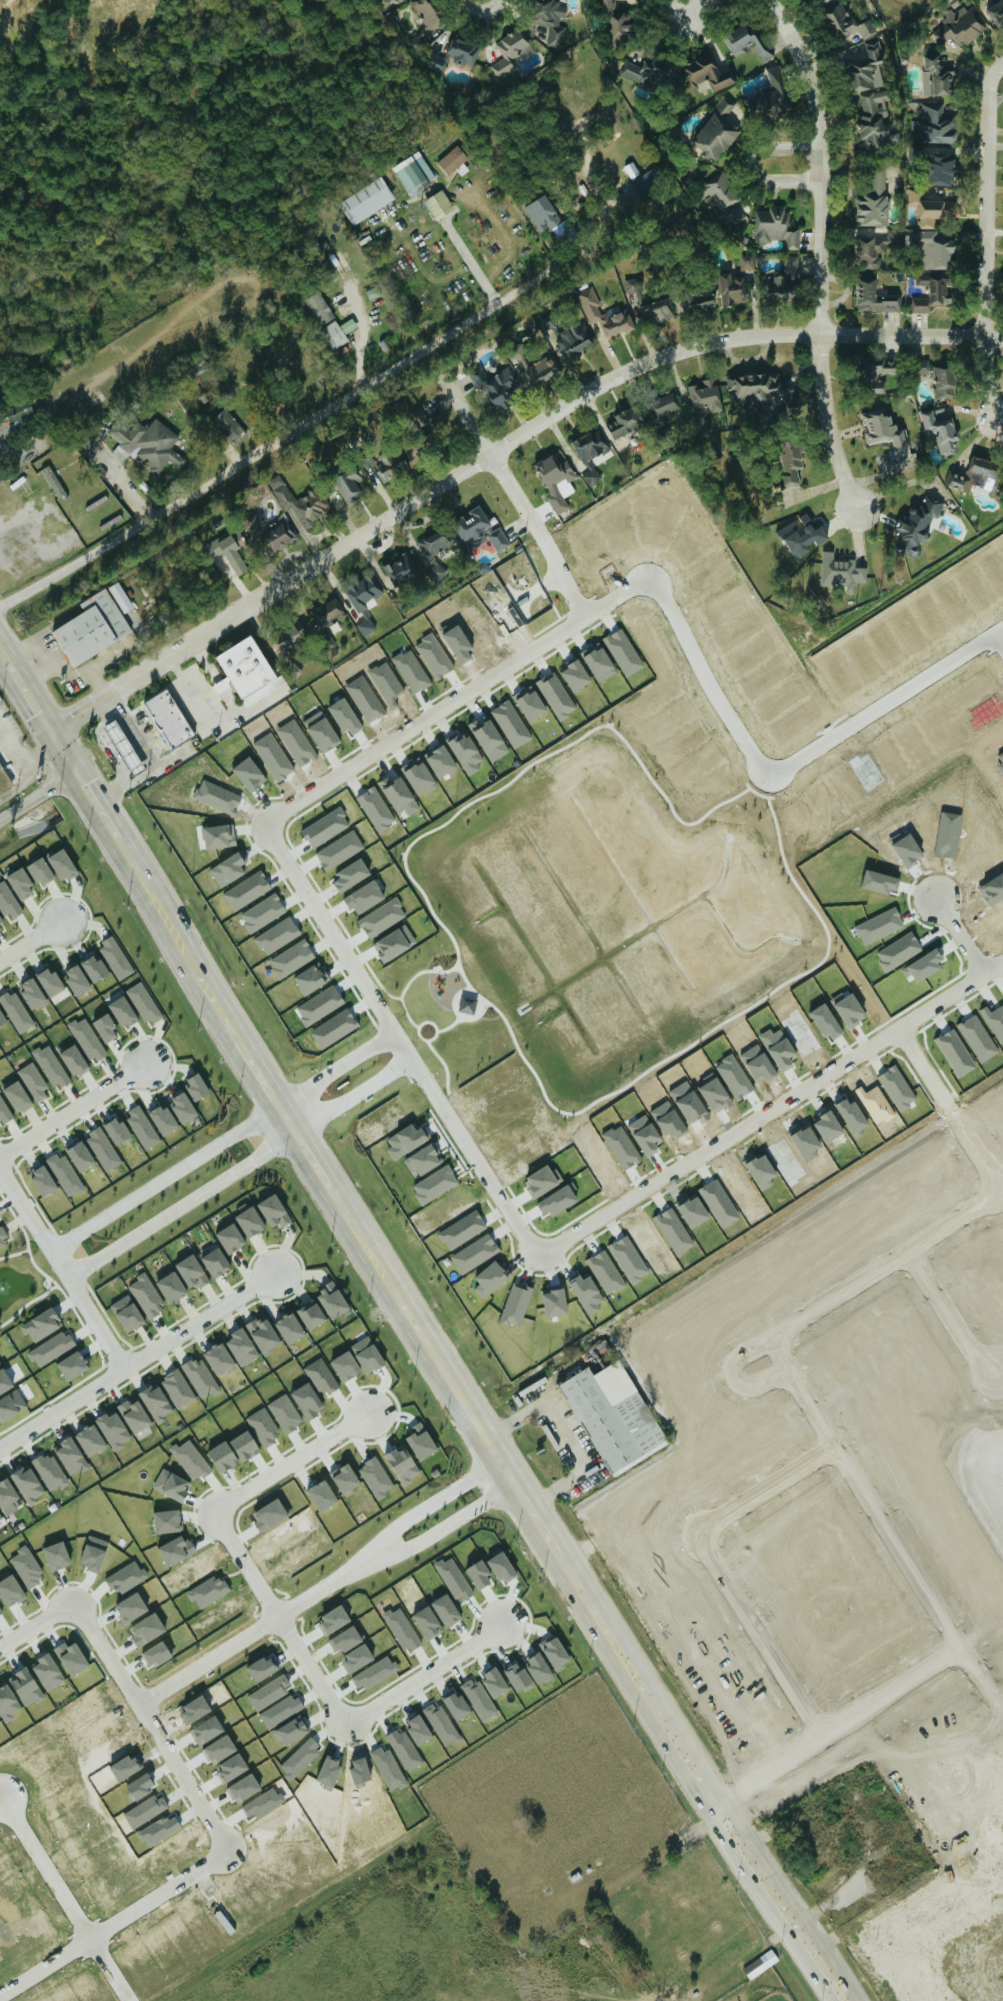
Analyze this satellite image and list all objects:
building: (392, 1)
road: (695, 8)
building: (996, 10)
road: (482, 11)
building: (426, 13)
building: (550, 19)
building: (846, 21)
building: (960, 26)
building: (745, 39)
building: (463, 50)
building: (508, 52)
building: (436, 61)
building: (646, 69)
road: (996, 69)
building: (706, 73)
building: (938, 74)
building: (869, 94)
building: (770, 95)
building: (935, 123)
building: (716, 131)
building: (452, 159)
road: (752, 164)
building: (462, 168)
building: (940, 169)
building: (414, 171)
building: (648, 179)
building: (719, 196)
building: (367, 199)
building: (873, 200)
building: (439, 203)
building: (543, 213)
building: (776, 226)
road: (987, 247)
building: (875, 248)
building: (933, 249)
road: (821, 251)
building: (747, 261)
road: (470, 263)
building: (791, 263)
building: (633, 284)
building: (779, 286)
building: (731, 288)
building: (373, 292)
building: (930, 293)
building: (874, 296)
building: (698, 298)
building: (319, 307)
building: (657, 310)
building: (593, 311)
road: (355, 314)
building: (338, 331)
building: (573, 336)
building: (516, 351)
road: (119, 357)
building: (543, 368)
building: (877, 374)
building: (496, 386)
building: (756, 388)
building: (705, 394)
building: (665, 404)
building: (19, 410)
building: (420, 418)
building: (623, 420)
building: (228, 424)
road: (300, 426)
road: (42, 428)
building: (941, 428)
building: (882, 429)
building: (147, 443)
building: (590, 444)
road: (497, 448)
road: (491, 453)
building: (391, 461)
building: (789, 464)
building: (974, 475)
building: (556, 478)
building: (53, 479)
building: (346, 483)
road: (129, 491)
road: (39, 498)
building: (300, 501)
building: (472, 524)
building: (916, 526)
building: (270, 530)
building: (802, 535)
building: (498, 538)
building: (231, 549)
building: (434, 549)
building: (402, 567)
building: (841, 571)
road: (563, 573)
building: (363, 590)
building: (120, 595)
building: (326, 623)
building: (366, 625)
building: (91, 627)
building: (289, 632)
road: (997, 640)
building: (624, 651)
building: (600, 659)
road: (3, 662)
building: (246, 670)
building: (574, 673)
road: (707, 679)
building: (556, 694)
road: (456, 698)
road: (886, 699)
road: (27, 700)
building: (529, 701)
building: (168, 717)
building: (511, 722)
traffic signals: (48, 734)
building: (489, 737)
building: (123, 746)
building: (465, 752)
road: (61, 756)
road: (153, 760)
road: (21, 761)
building: (417, 774)
traffic signals: (75, 778)
building: (4, 781)
building: (399, 794)
road: (37, 801)
building: (376, 807)
road: (95, 810)
building: (218, 834)
building: (339, 849)
building: (61, 863)
building: (227, 868)
building: (40, 870)
building: (350, 874)
building: (20, 883)
building: (7, 899)
building: (262, 911)
building: (382, 917)
building: (1, 922)
building: (277, 934)
road: (961, 937)
road: (30, 942)
building: (116, 957)
building: (292, 957)
building: (93, 967)
building: (311, 977)
building: (76, 978)
building: (49, 980)
building: (31, 992)
building: (144, 1002)
building: (319, 1004)
building: (467, 1005)
building: (16, 1010)
building: (122, 1010)
park: (442, 1012)
building: (1, 1017)
building: (105, 1027)
building: (87, 1038)
road: (400, 1038)
building: (73, 1059)
building: (51, 1065)
road: (338, 1068)
building: (33, 1080)
building: (195, 1085)
road: (353, 1094)
building: (16, 1096)
building: (182, 1106)
road: (772, 1107)
road: (948, 1107)
building: (4, 1110)
road: (74, 1114)
building: (162, 1119)
building: (142, 1126)
building: (116, 1130)
building: (405, 1139)
building: (103, 1147)
building: (79, 1154)
building: (422, 1159)
building: (65, 1173)
road: (164, 1178)
building: (42, 1179)
building: (435, 1183)
building: (556, 1200)
road: (181, 1205)
building: (273, 1210)
road: (30, 1216)
building: (249, 1220)
building: (3, 1236)
building: (230, 1237)
building: (474, 1252)
building: (215, 1261)
road: (888, 1265)
building: (191, 1271)
building: (489, 1277)
building: (171, 1286)
building: (586, 1292)
building: (146, 1294)
building: (331, 1299)
building: (554, 1301)
building: (514, 1303)
building: (127, 1312)
building: (310, 1314)
road: (93, 1315)
road: (951, 1316)
building: (41, 1323)
building: (289, 1327)
building: (263, 1334)
building: (241, 1346)
building: (51, 1347)
building: (366, 1353)
building: (672, 1353)
road: (137, 1359)
building: (219, 1359)
building: (344, 1365)
road: (575, 1373)
building: (320, 1375)
road: (735, 1375)
building: (201, 1377)
building: (177, 1387)
building: (307, 1399)
building: (156, 1401)
building: (133, 1414)
building: (613, 1415)
road: (479, 1421)
building: (113, 1429)
building: (89, 1439)
building: (70, 1455)
road: (589, 1461)
road: (299, 1462)
building: (50, 1471)
building: (376, 1476)
building: (345, 1478)
building: (27, 1484)
road: (763, 1490)
building: (6, 1492)
road: (863, 1493)
building: (0, 1518)
building: (207, 1590)
road: (329, 1590)
road: (290, 1620)
road: (34, 1625)
road: (759, 1637)
road: (435, 1676)
road: (979, 1681)
road: (154, 1723)
road: (837, 1723)
road: (644, 1863)
road: (45, 1870)
road: (114, 1924)
road: (991, 1944)
building: (761, 1963)
road: (982, 1977)

